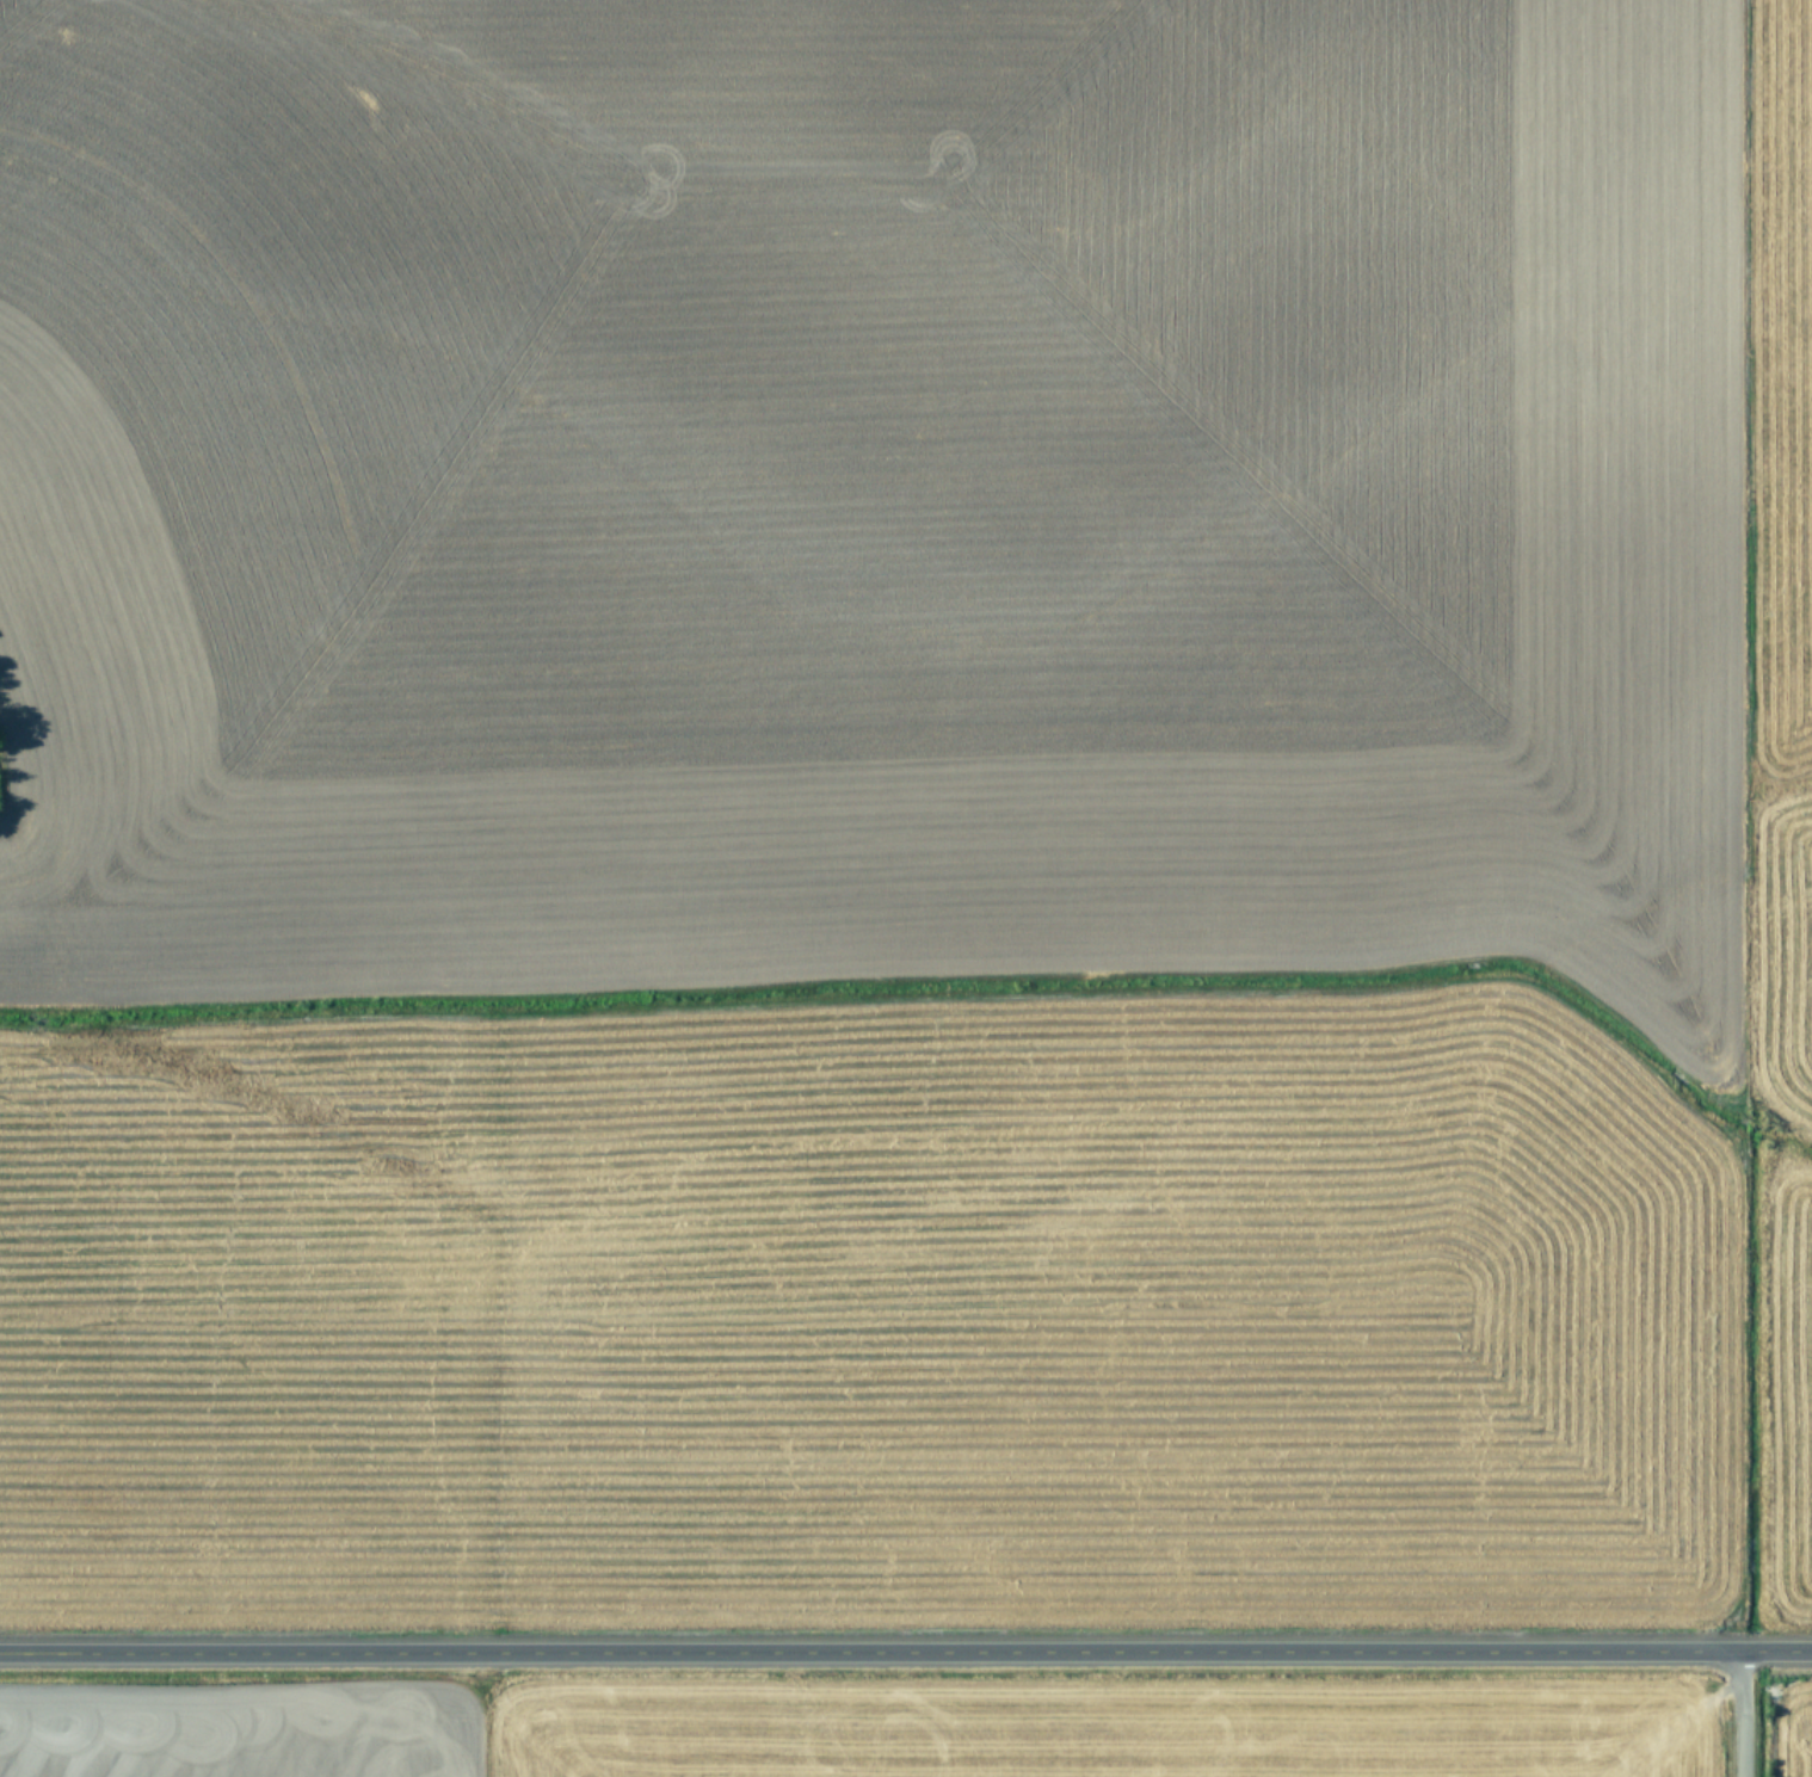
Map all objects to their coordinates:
crop: (906, 888)
road: (910, 1639)
road: (1739, 1715)

